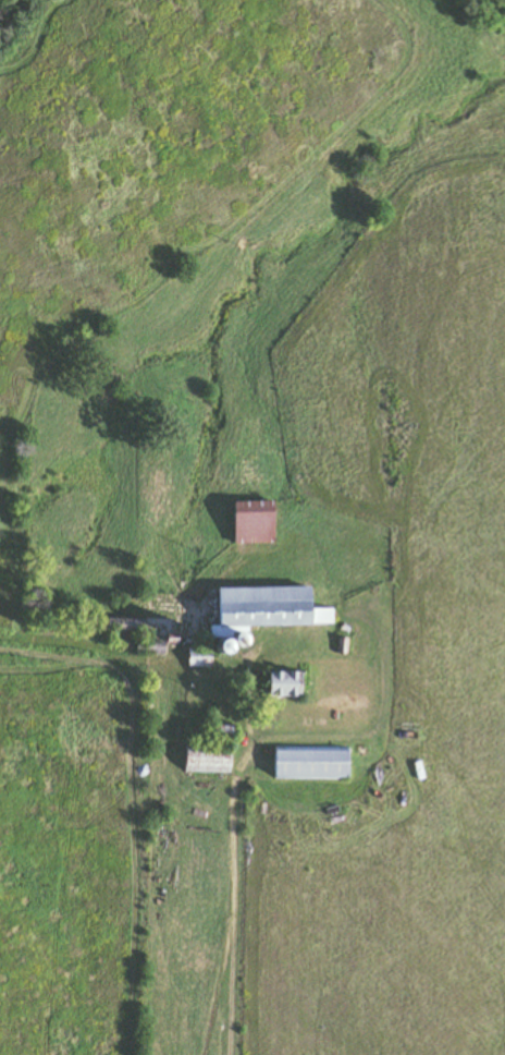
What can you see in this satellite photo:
building: (249, 523)
building: (254, 616)
building: (279, 683)
road: (125, 717)
road: (244, 759)
building: (220, 762)
building: (307, 763)

